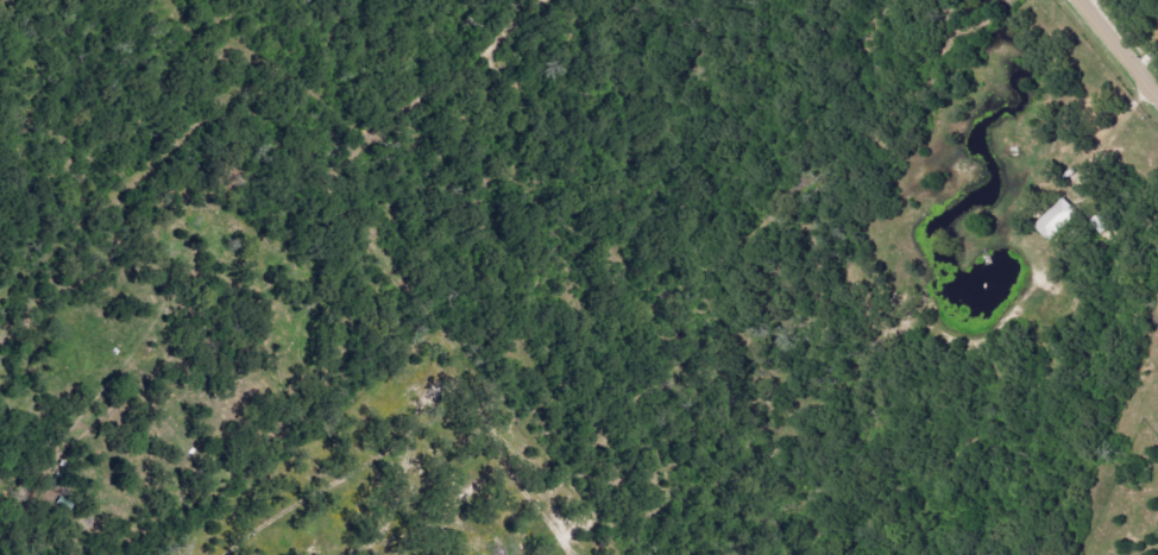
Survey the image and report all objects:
road: (1116, 49)
building: (1062, 220)

